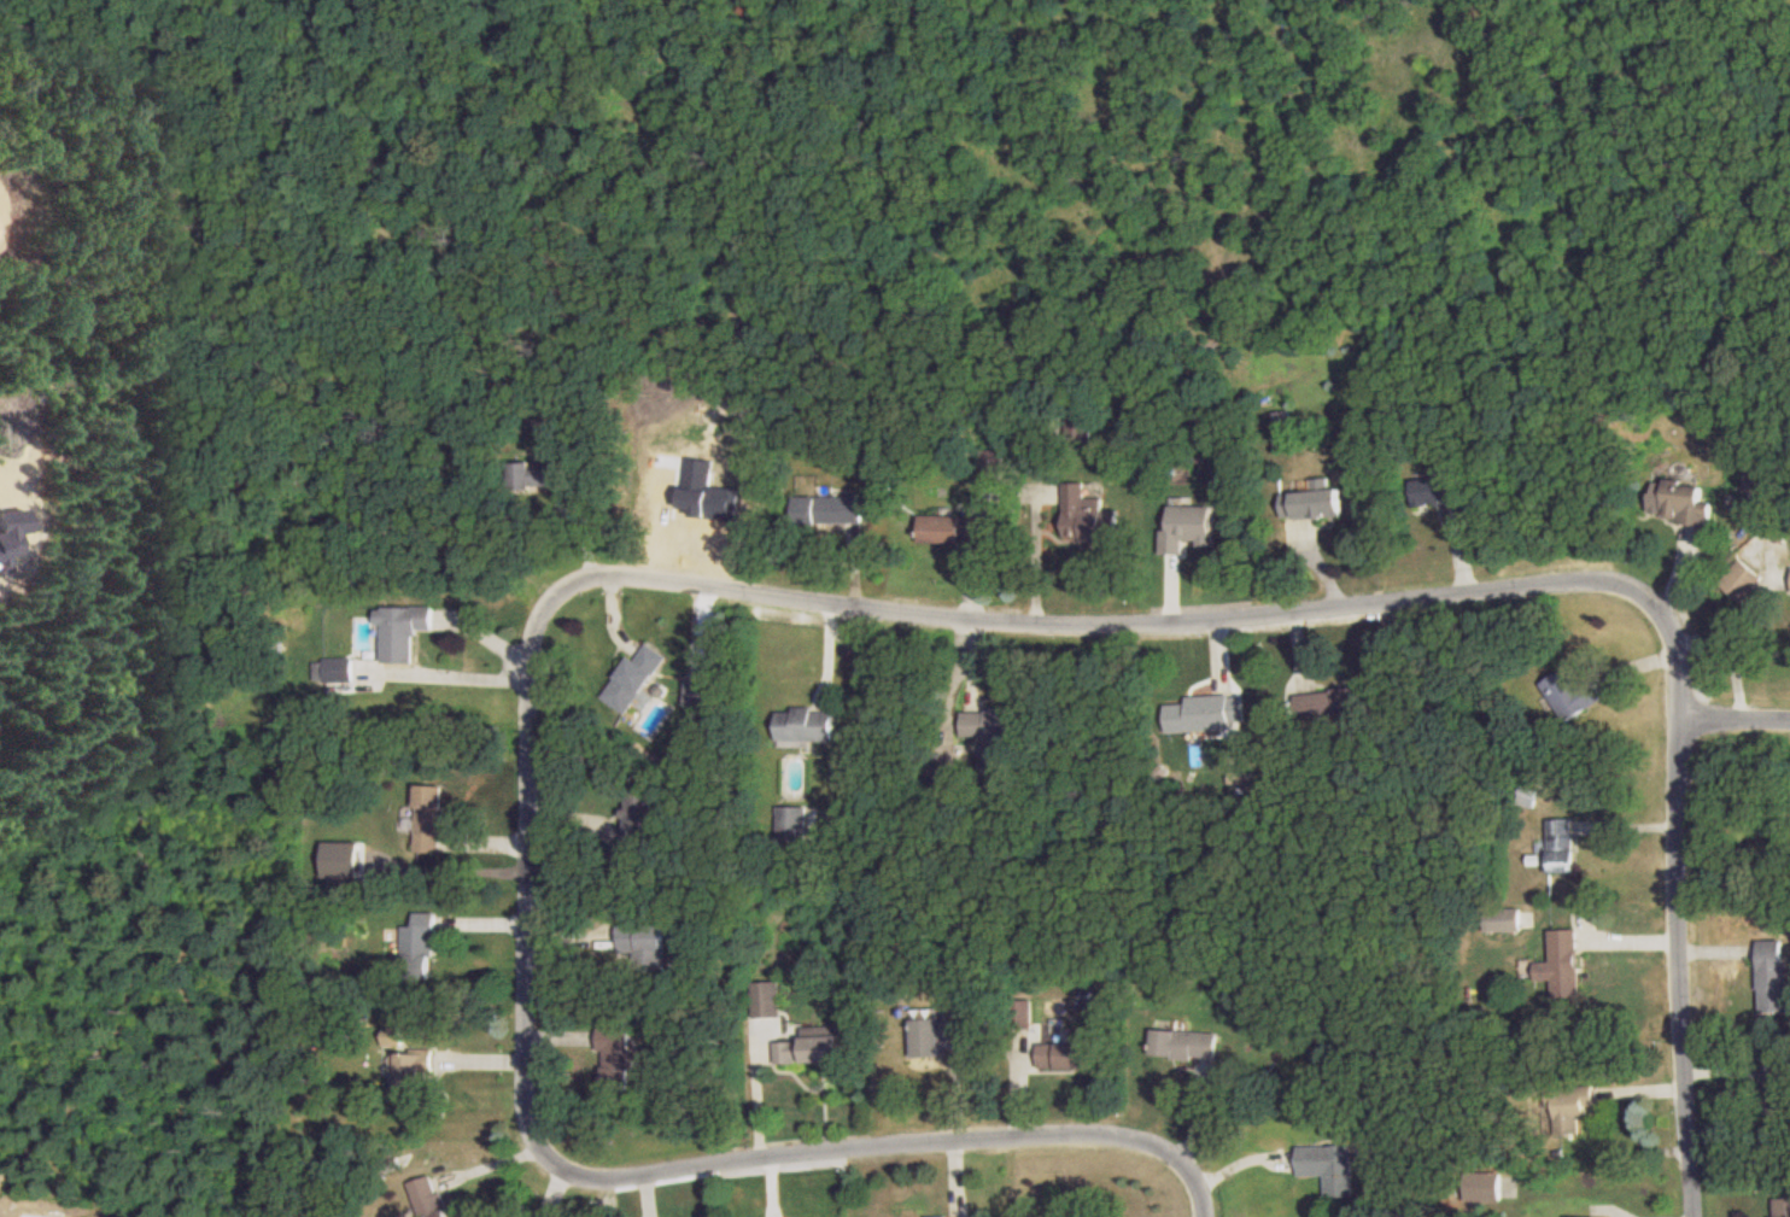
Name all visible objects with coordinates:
building: (1069, 425)
building: (1282, 429)
building: (990, 461)
building: (540, 475)
building: (1757, 480)
building: (1443, 495)
building: (1681, 501)
building: (1314, 502)
building: (829, 509)
building: (1088, 515)
building: (952, 528)
road: (1033, 554)
building: (1742, 578)
road: (1160, 620)
building: (403, 631)
road: (1735, 644)
building: (334, 673)
building: (636, 678)
building: (697, 690)
building: (1573, 695)
building: (1328, 702)
building: (1200, 714)
road: (1735, 714)
building: (808, 725)
building: (995, 735)
building: (428, 818)
building: (638, 823)
building: (1562, 844)
road: (527, 883)
building: (1503, 919)
building: (643, 942)
building: (419, 948)
building: (1563, 964)
road: (1680, 965)
building: (1773, 973)
building: (767, 997)
building: (937, 1035)
building: (1186, 1043)
building: (1061, 1046)
building: (813, 1047)
building: (615, 1059)
building: (413, 1071)
building: (1776, 1088)
building: (1572, 1107)
road: (858, 1141)
building: (1330, 1166)
road: (1191, 1175)
building: (428, 1198)
building: (1782, 1206)
building: (963, 1216)

